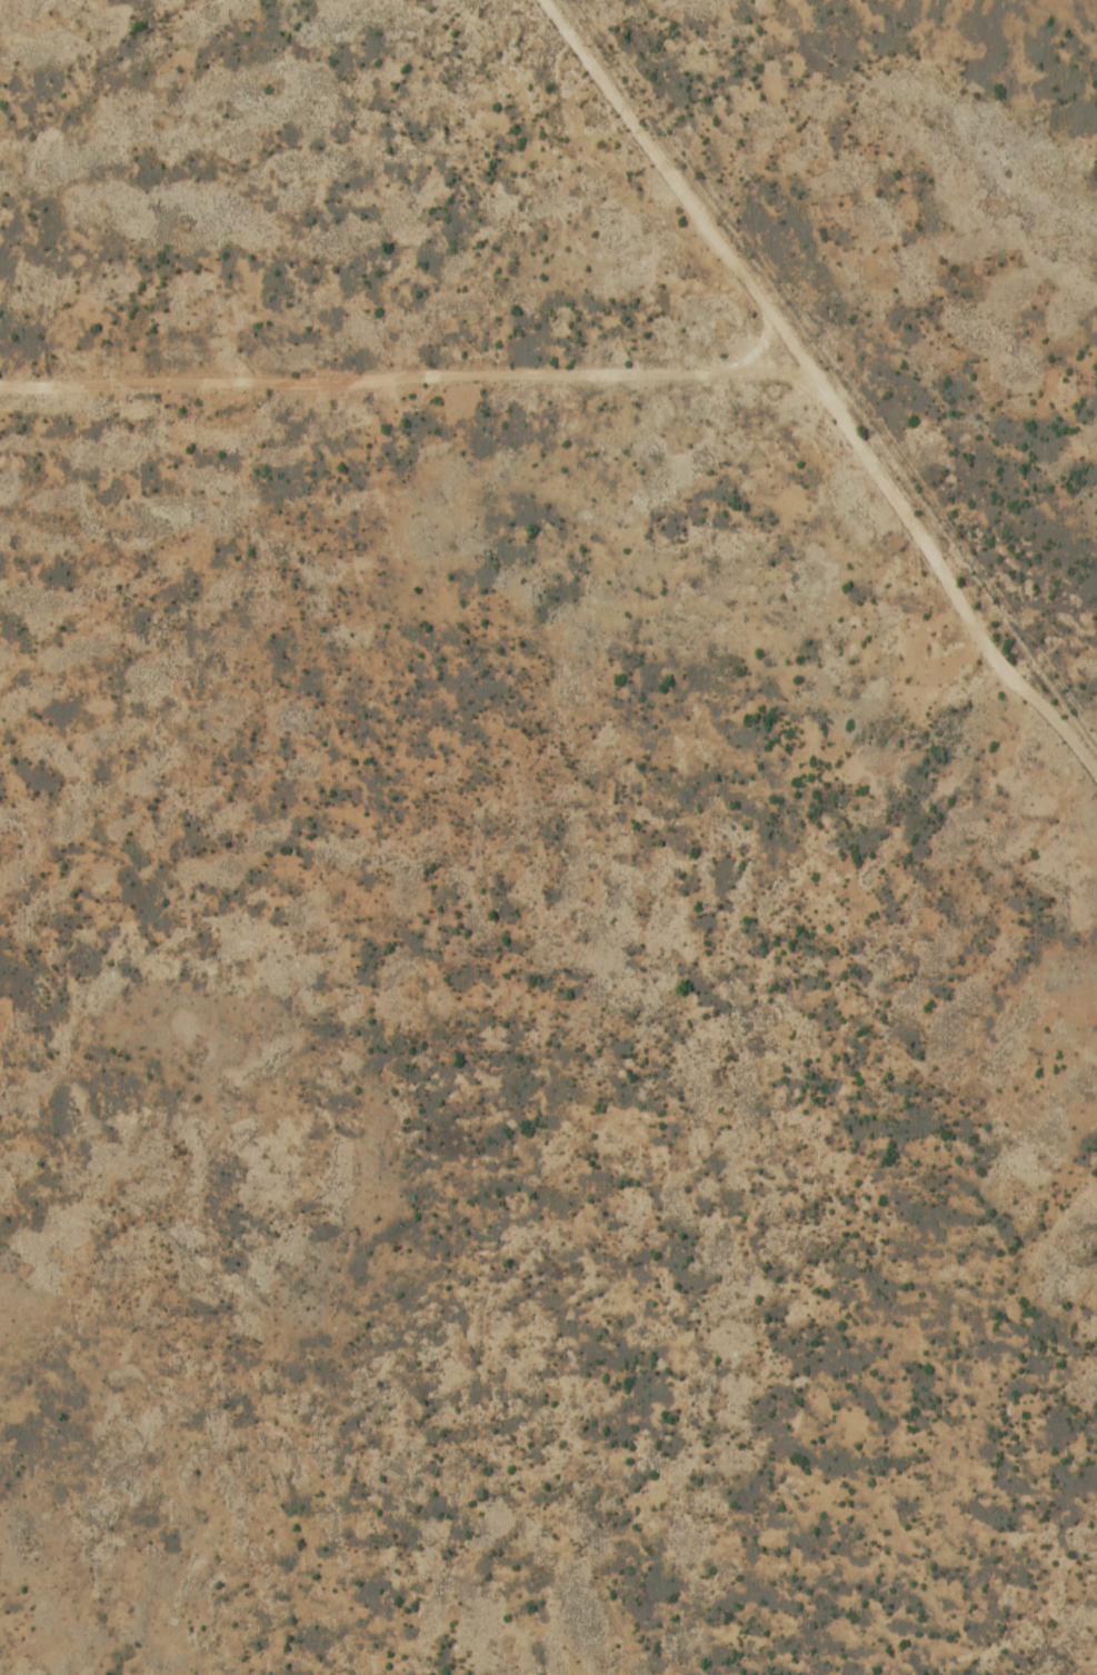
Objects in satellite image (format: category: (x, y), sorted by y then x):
road: (688, 189)
road: (652, 372)

